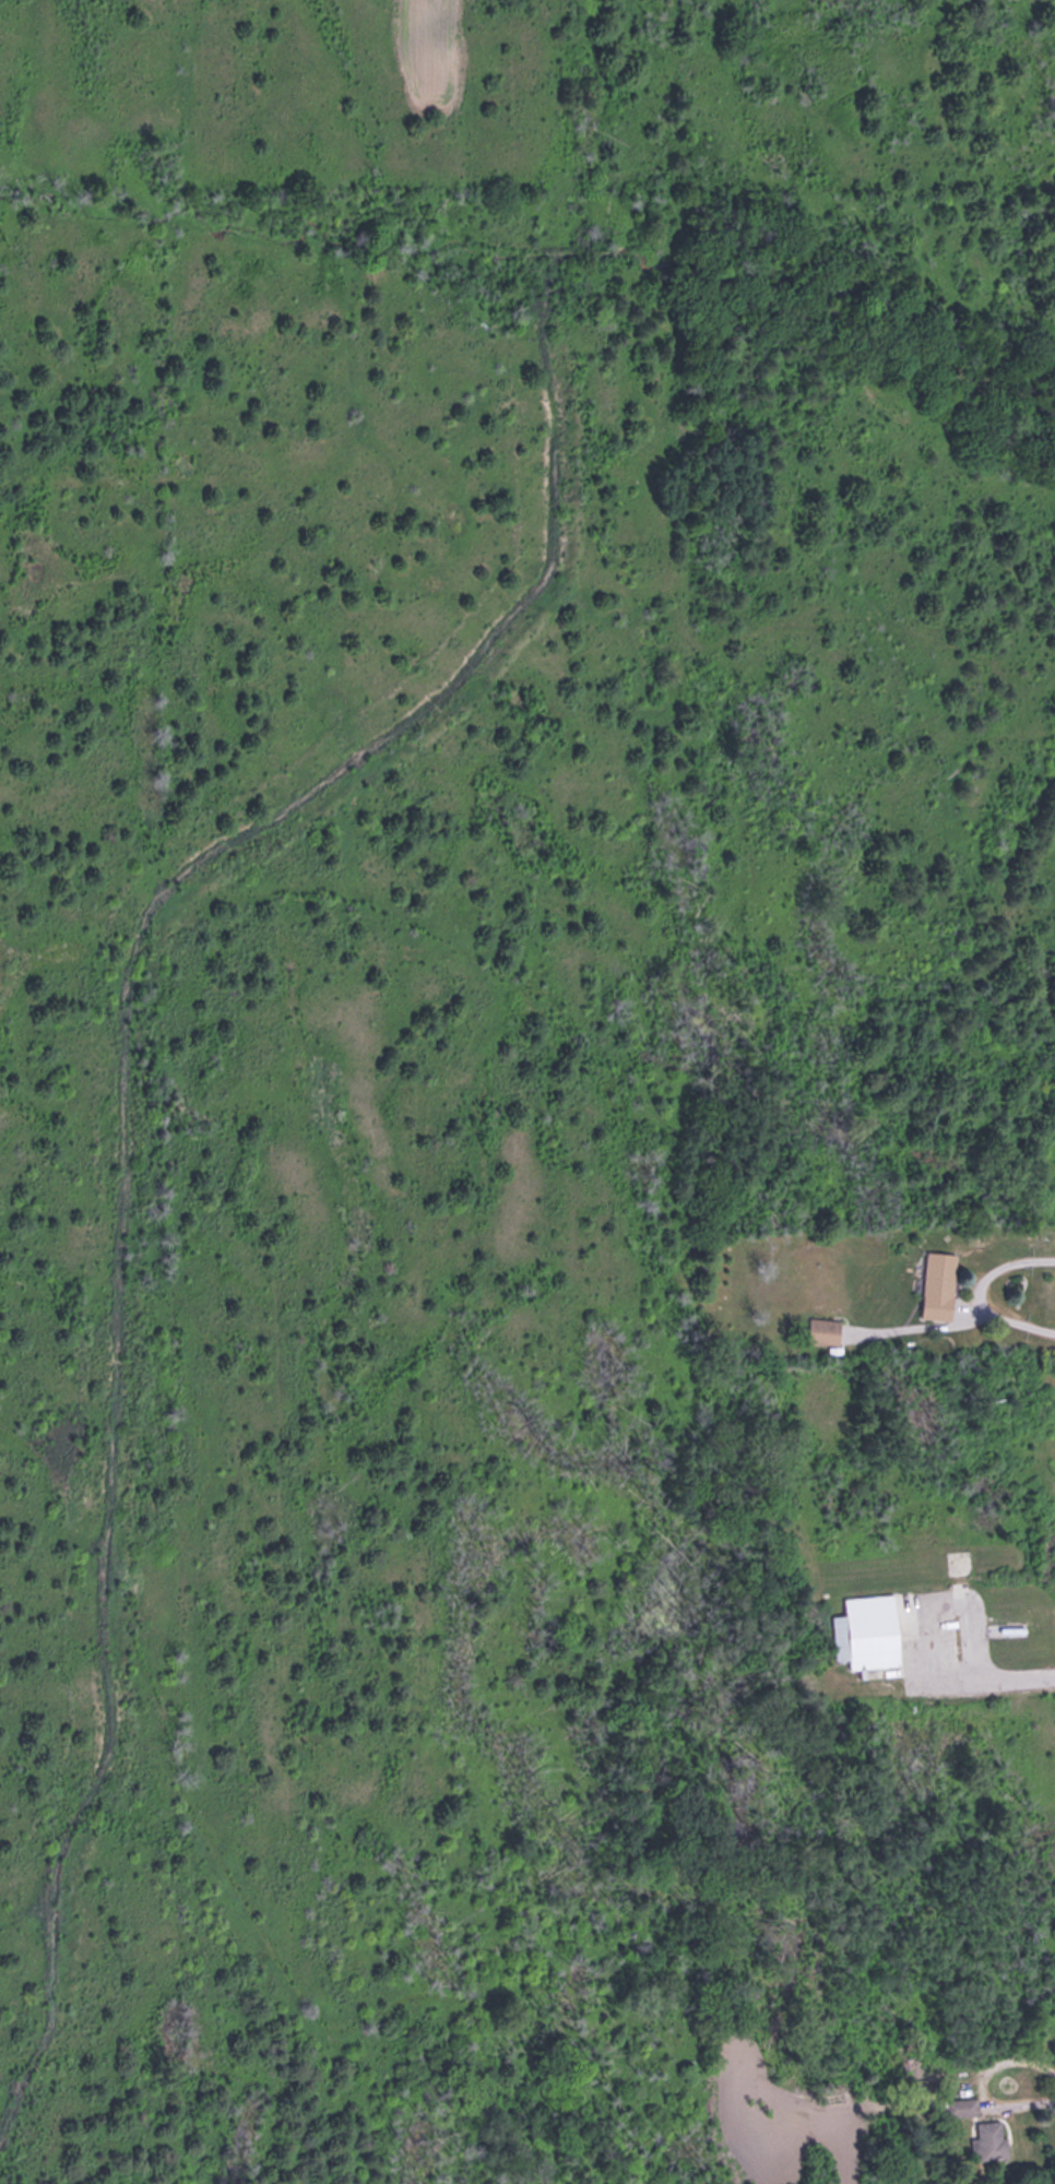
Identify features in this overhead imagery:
building: (937, 1283)
building: (822, 1327)
building: (870, 1627)
building: (808, 1677)
building: (962, 2104)
building: (991, 2138)

